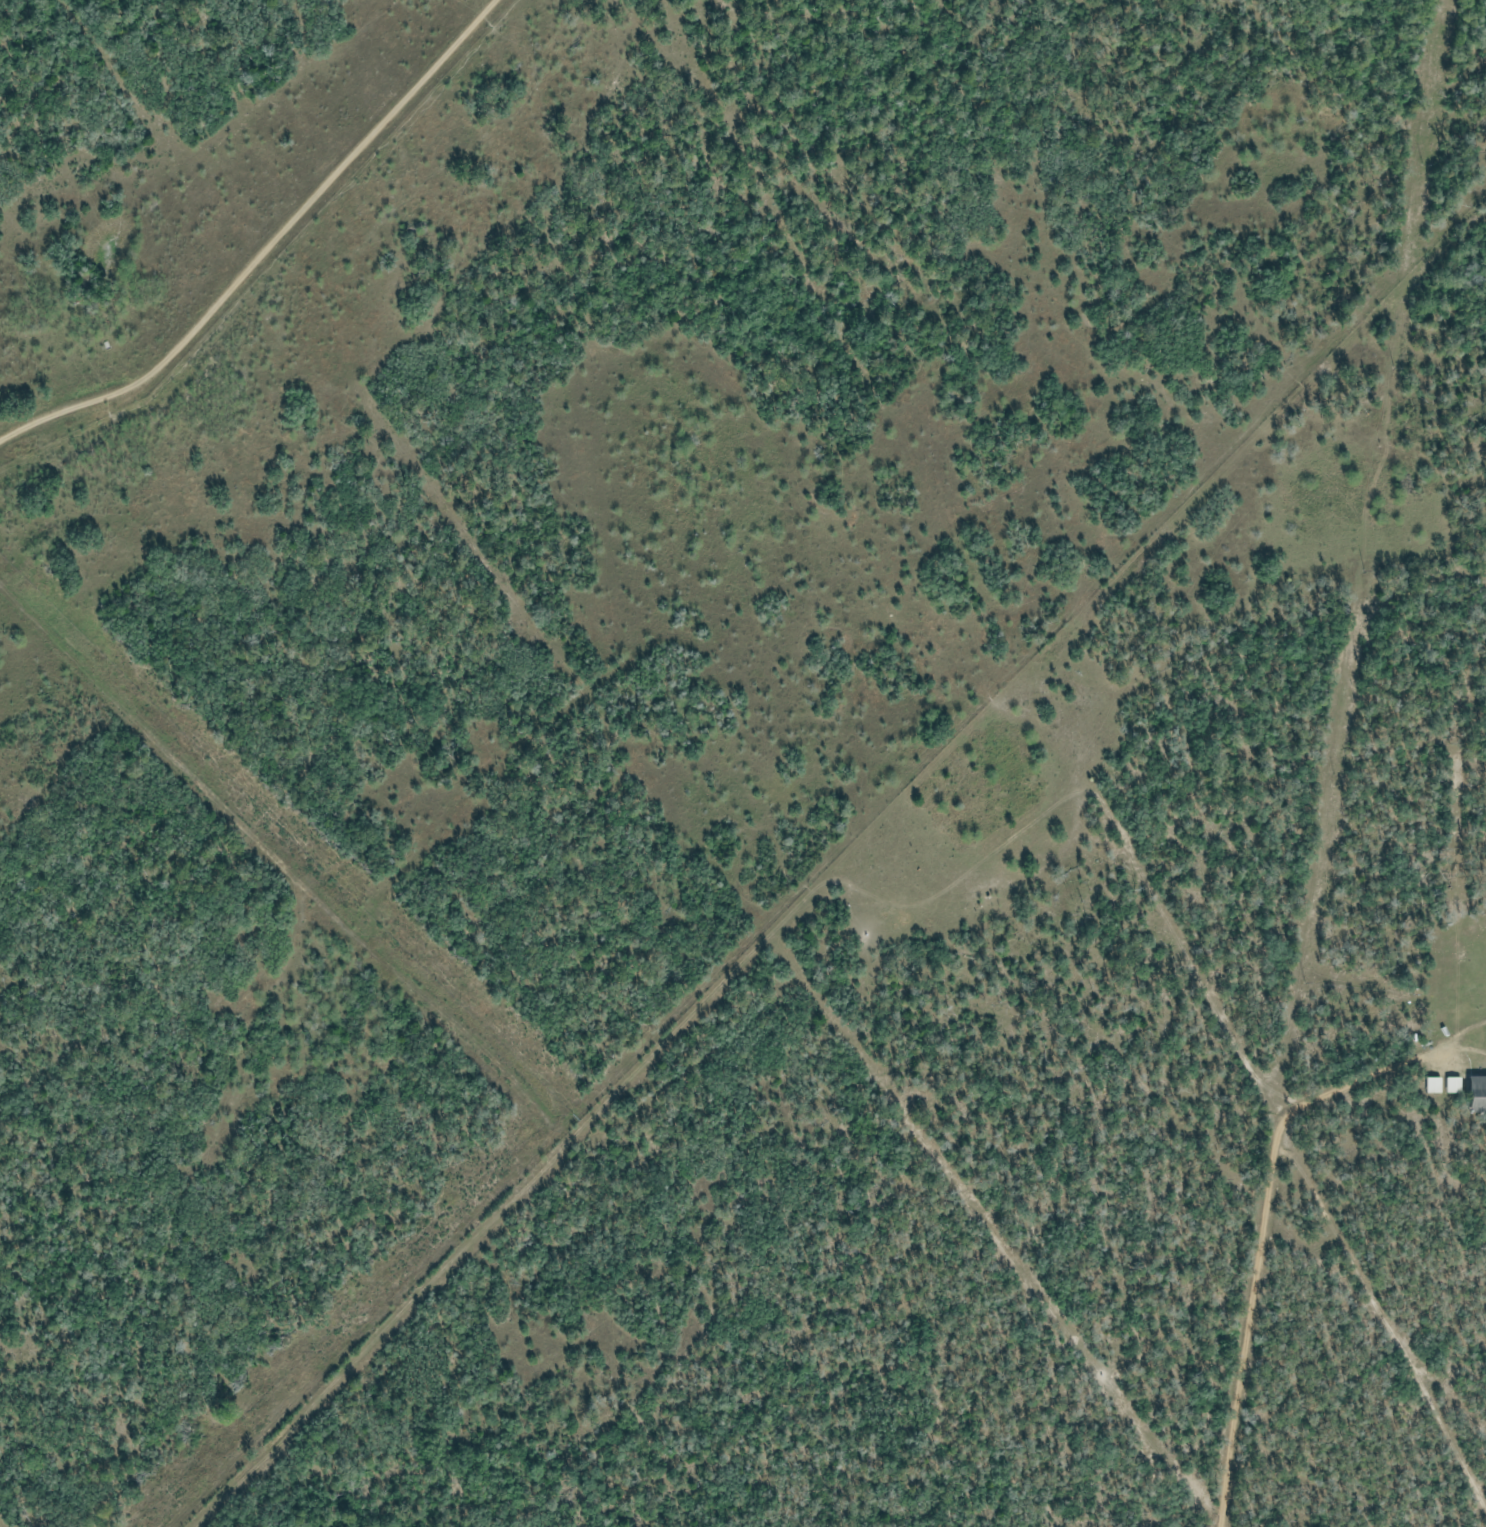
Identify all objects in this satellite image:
building: (1452, 1084)
building: (1476, 1095)

